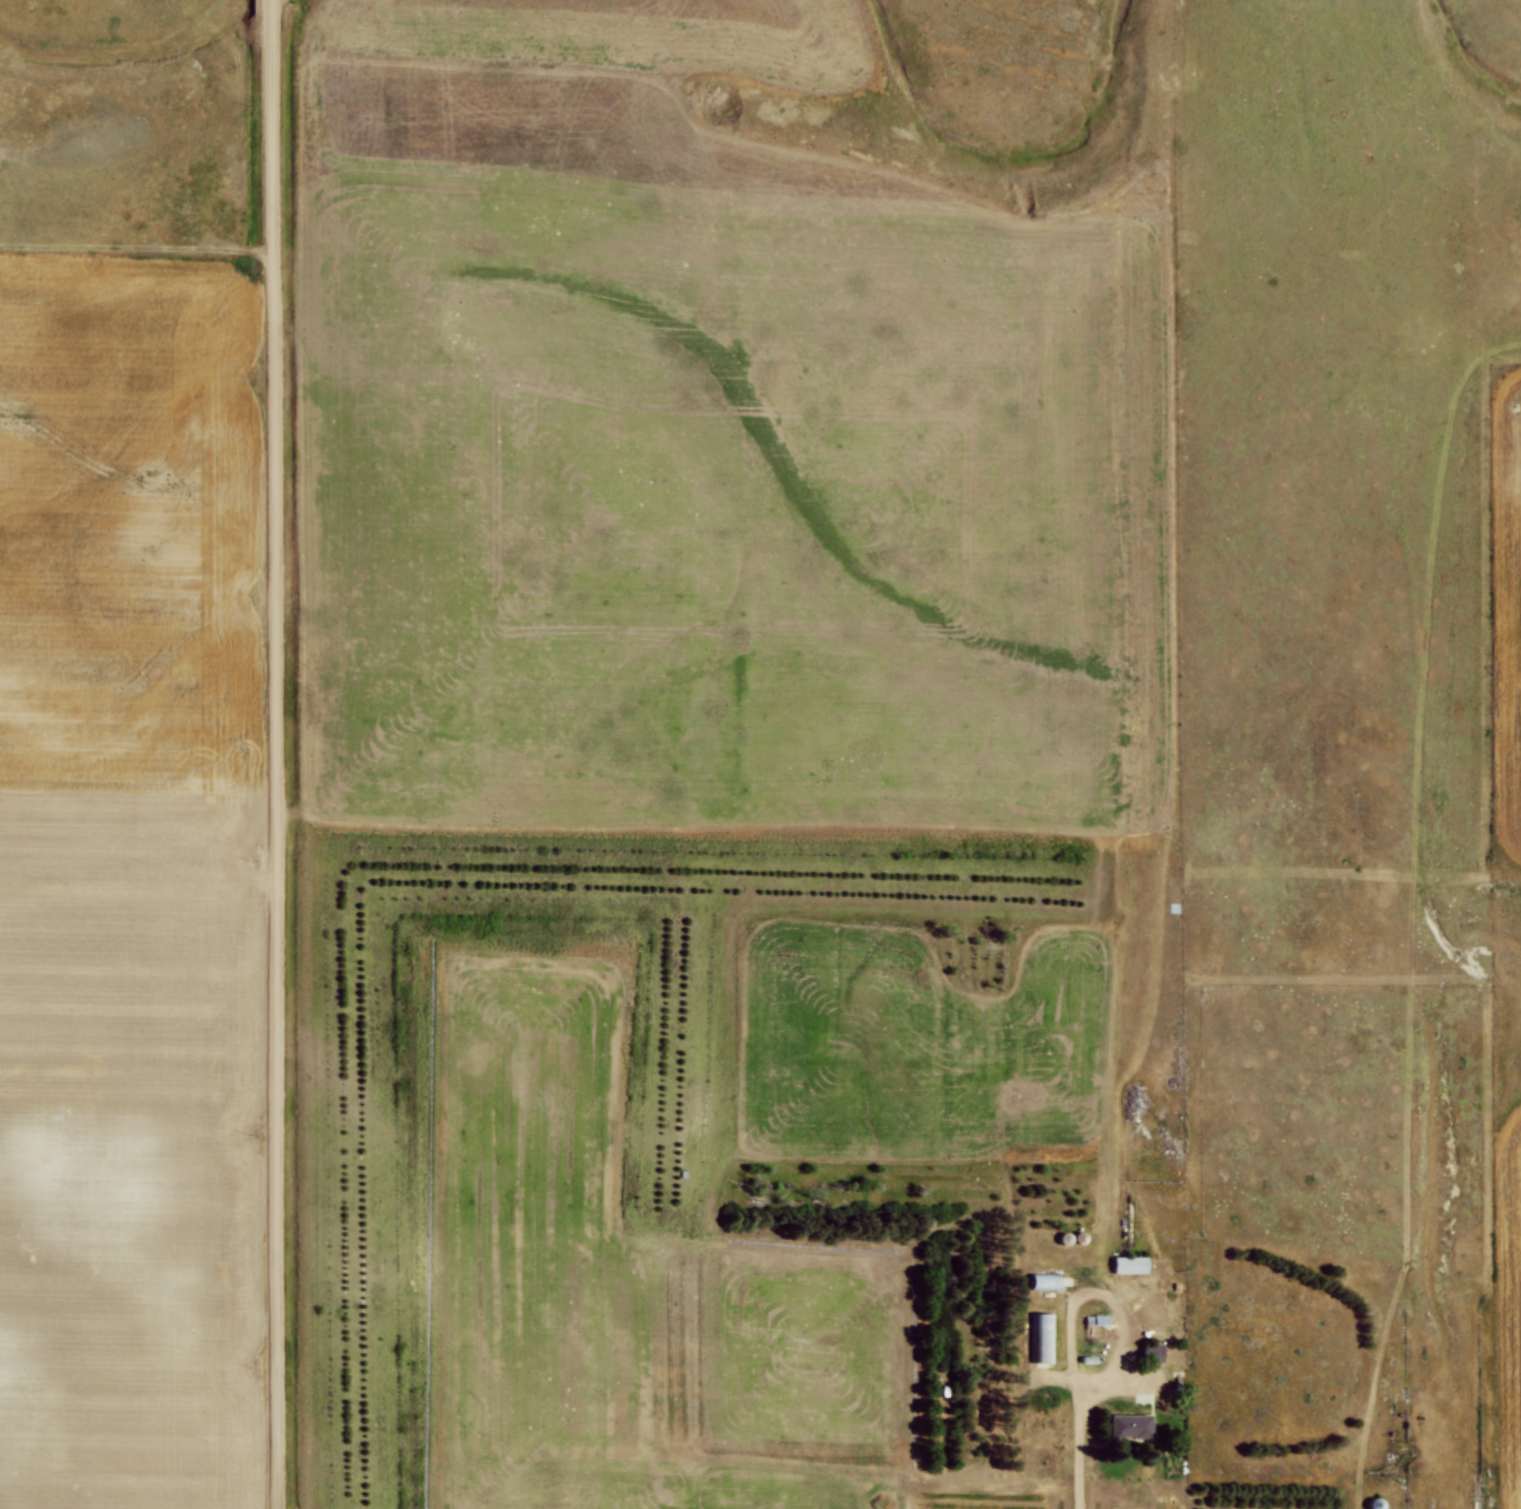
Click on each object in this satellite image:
road: (270, 5)
crop: (683, 478)
crop: (1507, 606)
road: (276, 759)
crop: (129, 884)
silo: (1080, 1235)
silo: (1066, 1237)
building: (1130, 1265)
building: (1046, 1280)
crop: (634, 1286)
road: (1096, 1286)
crop: (1510, 1299)
building: (1096, 1318)
building: (1042, 1336)
building: (1153, 1352)
building: (1090, 1359)
building: (1131, 1425)
road: (1080, 1475)
silo: (1376, 1503)

